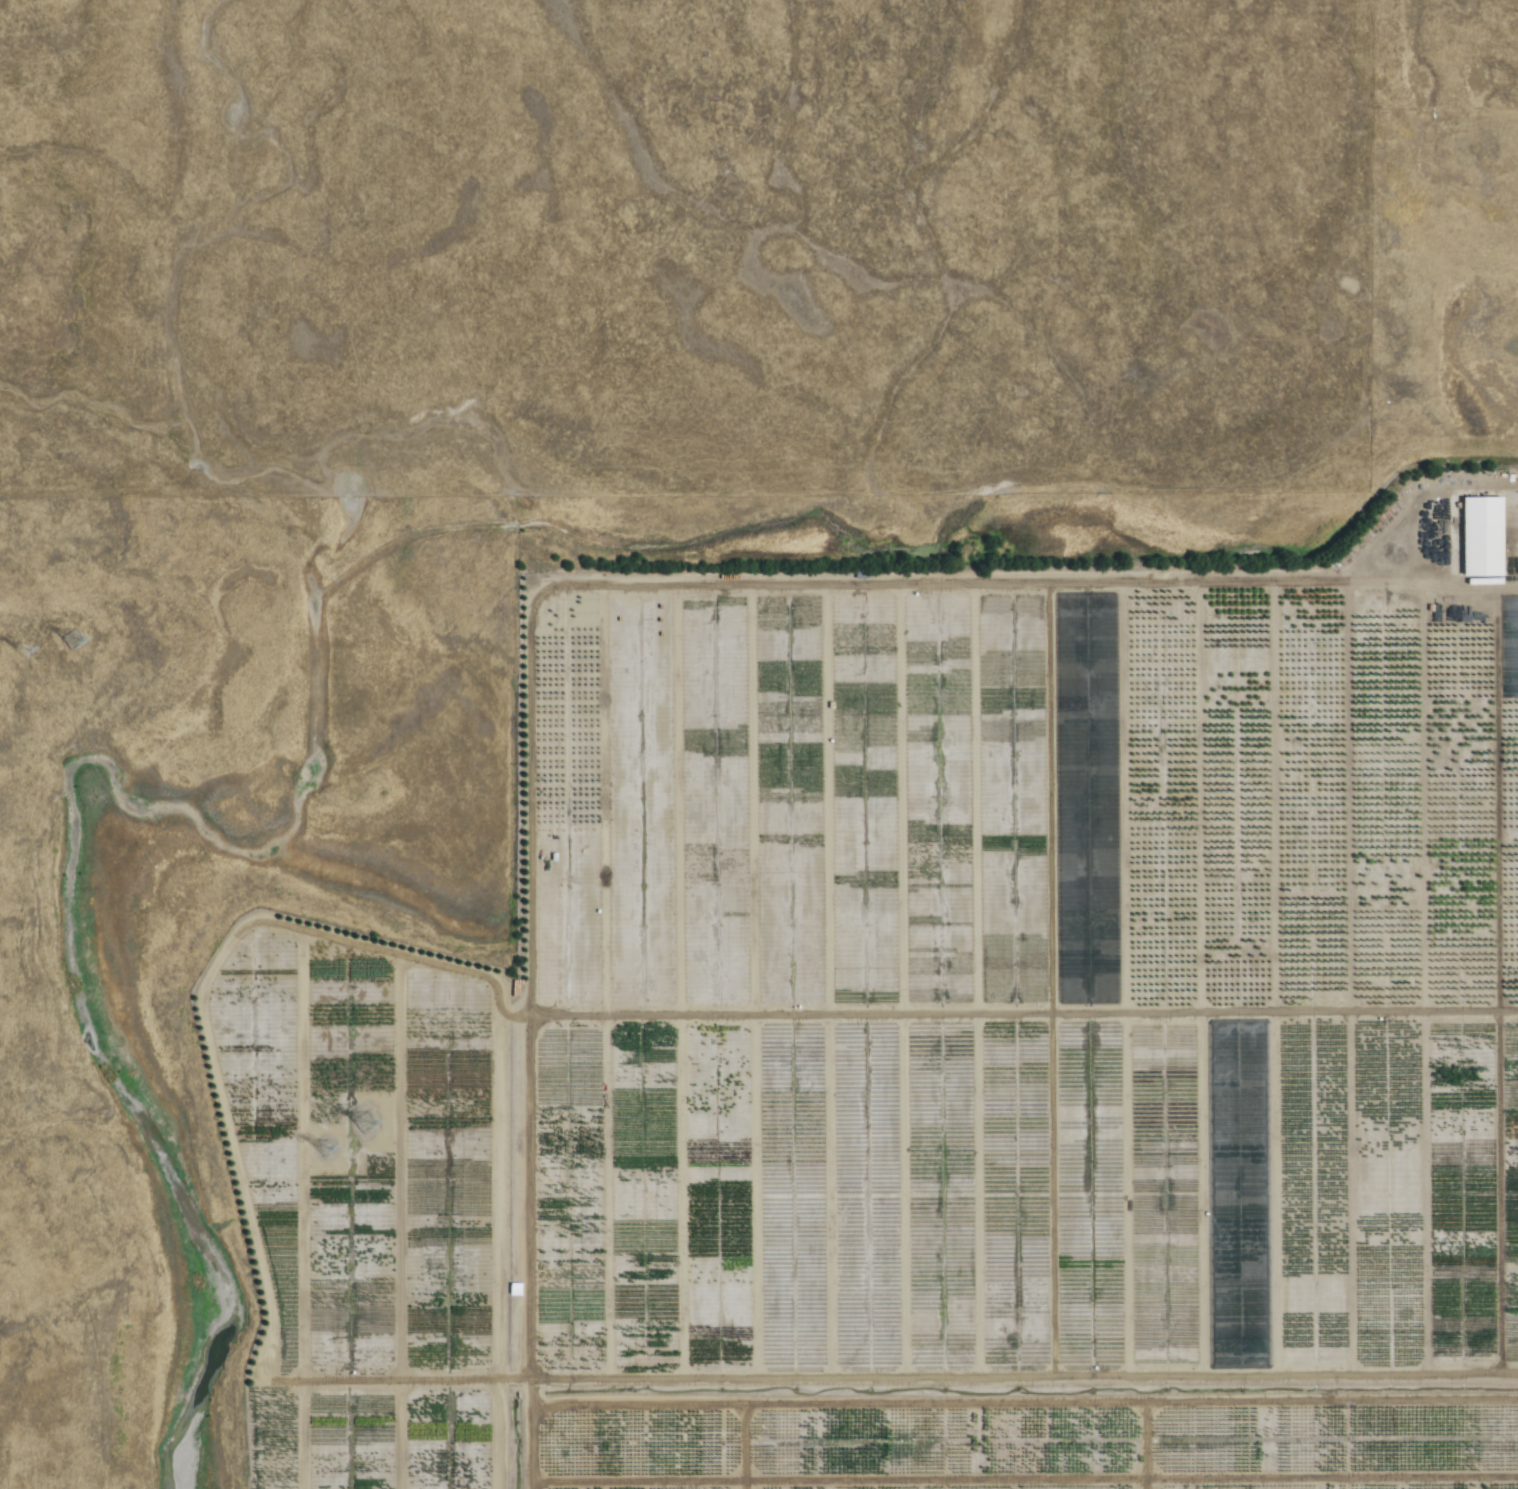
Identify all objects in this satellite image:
building: (1476, 537)
power tower: (69, 640)
power tower: (21, 653)
power tower: (360, 1123)
power tower: (320, 1147)

